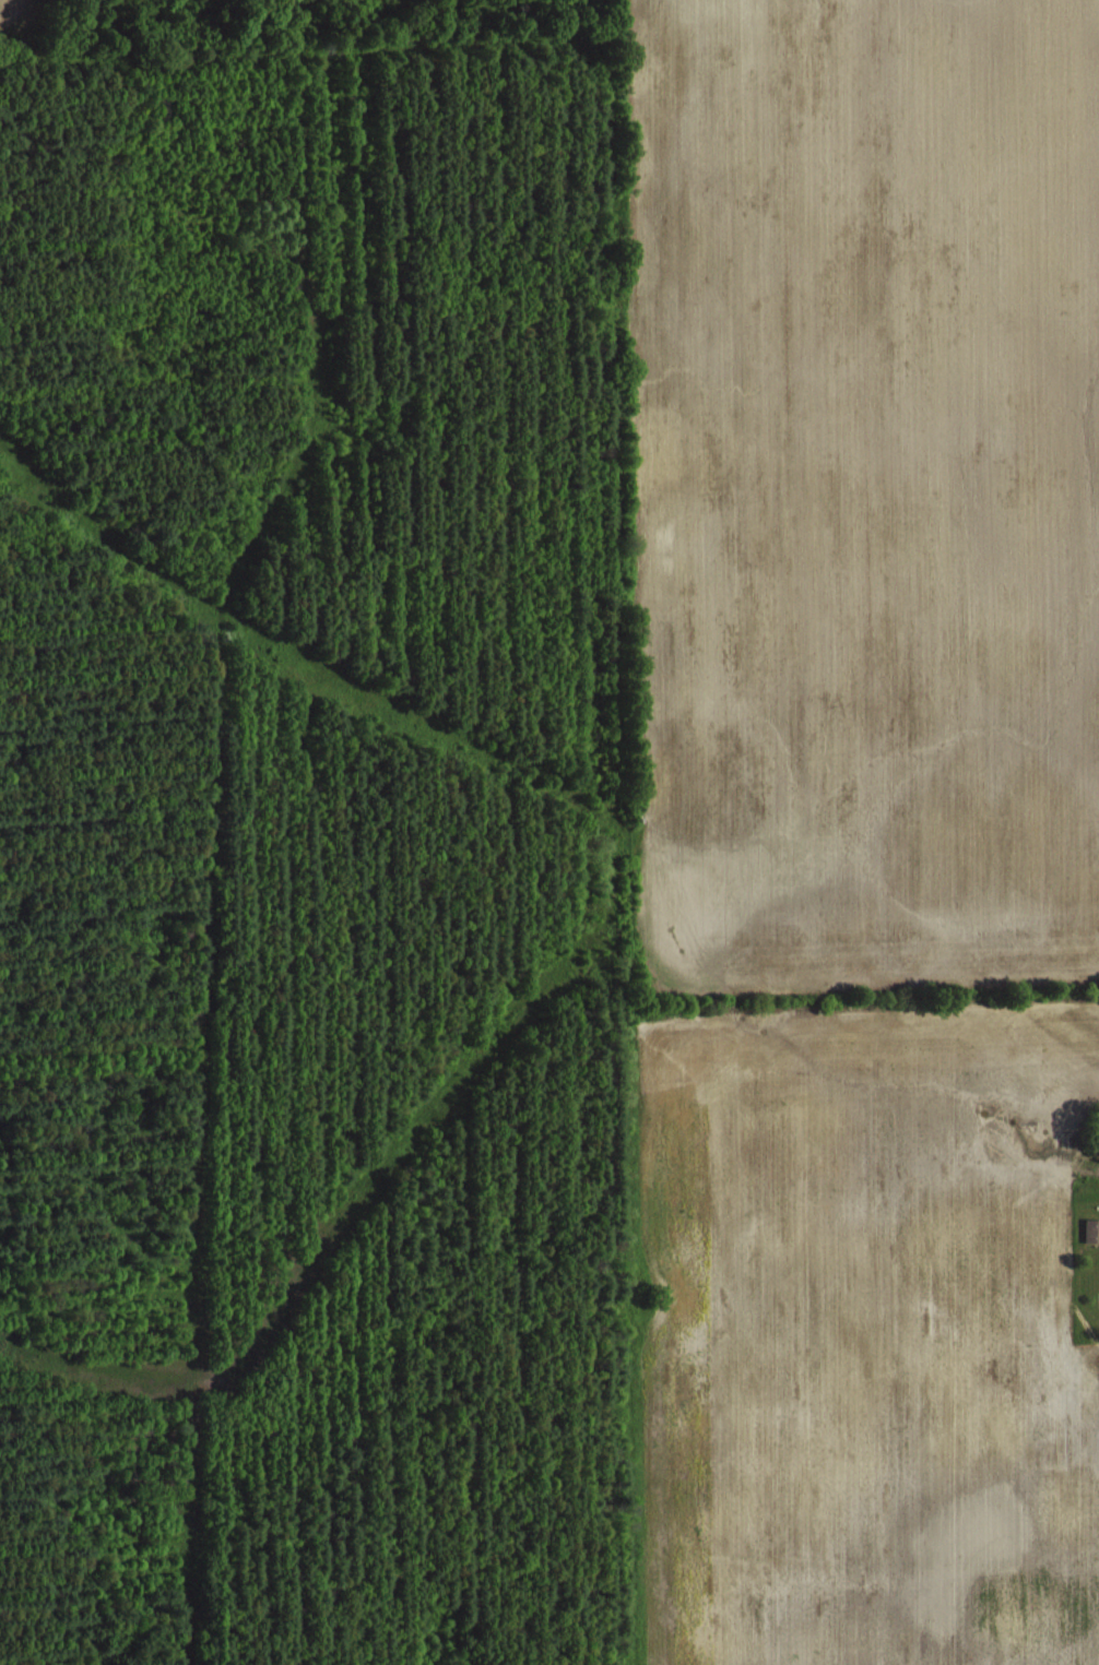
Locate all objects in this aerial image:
building: (1091, 1228)

